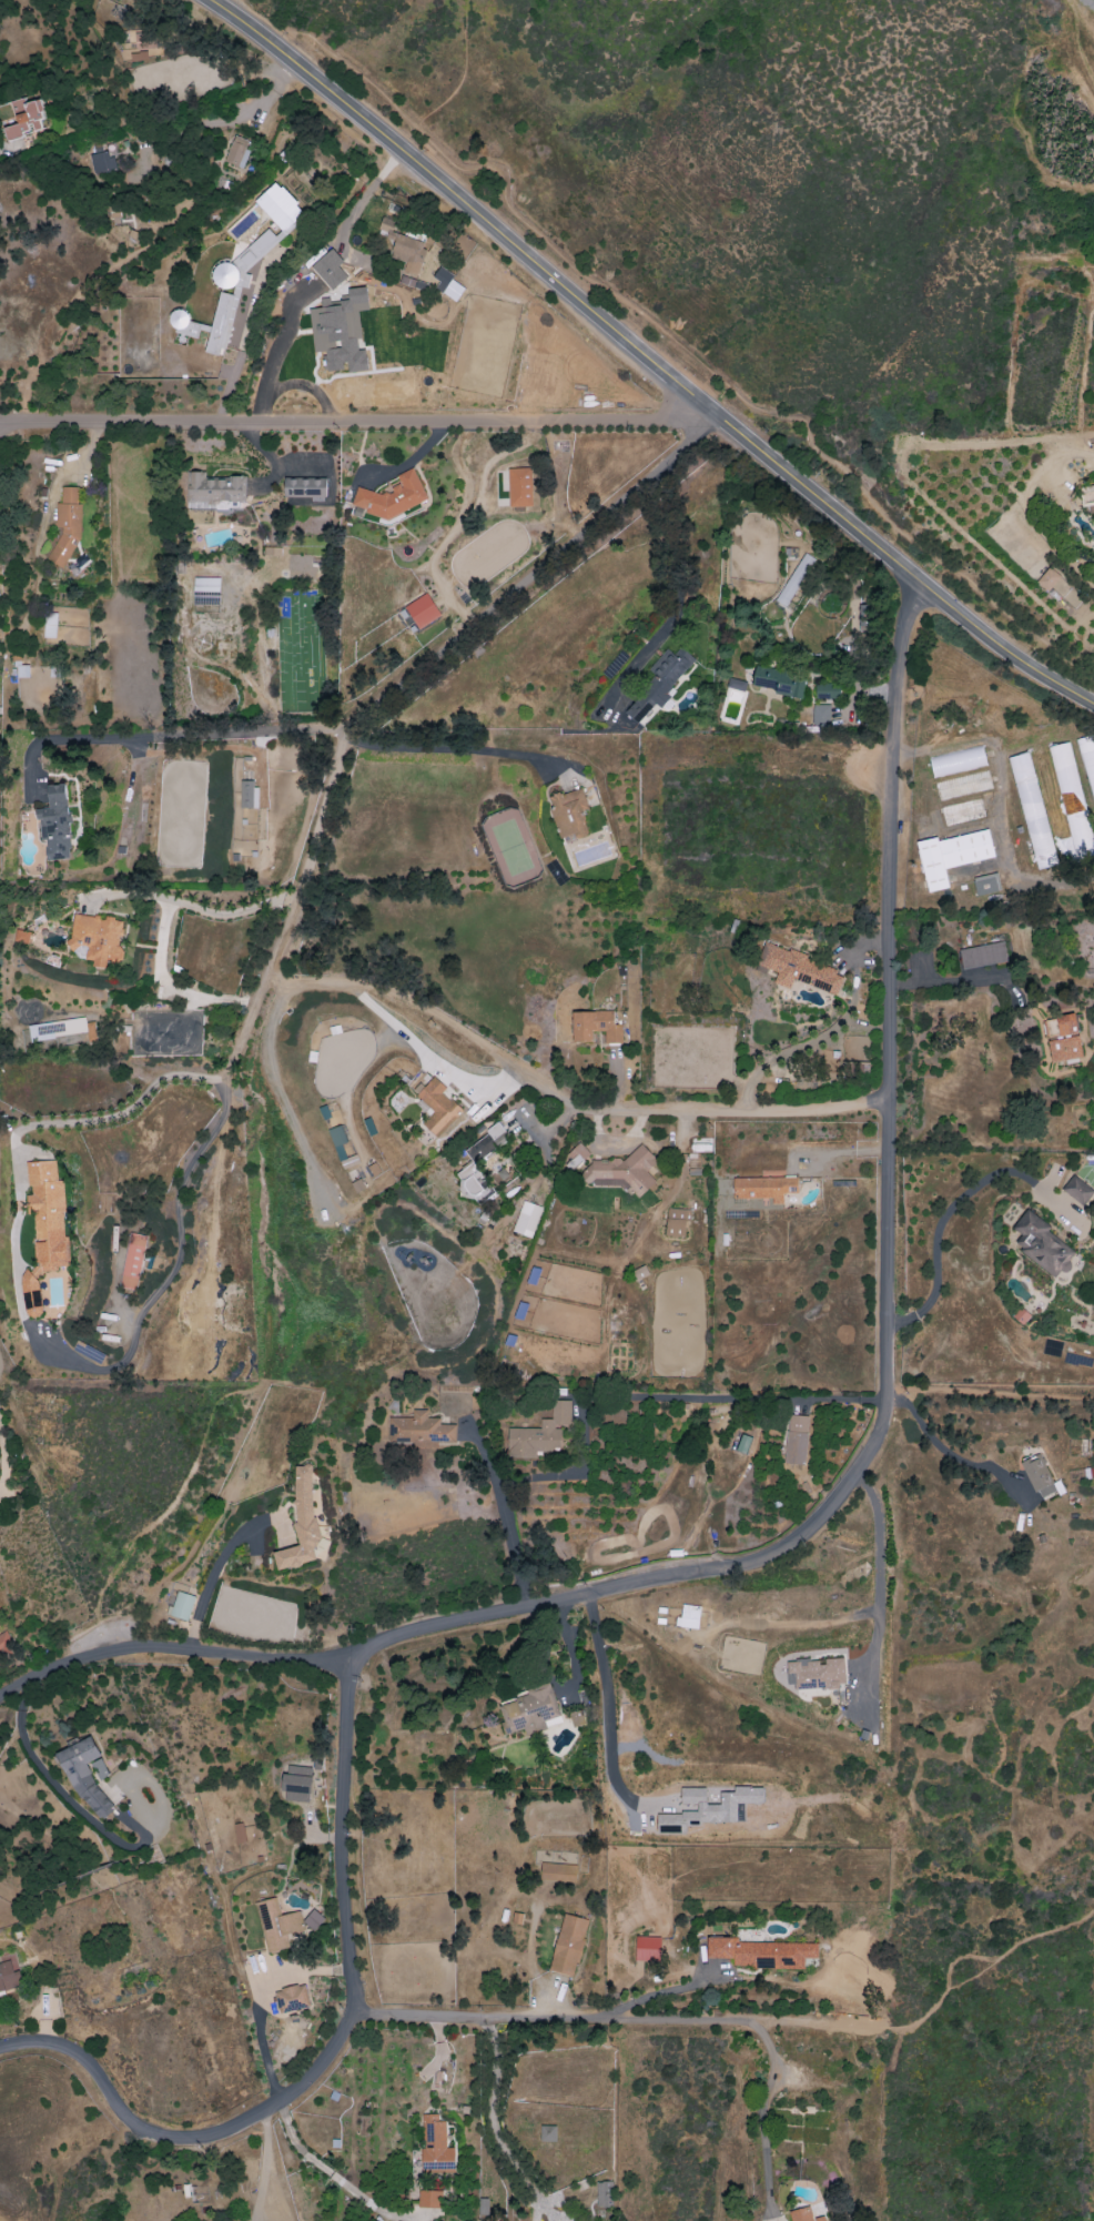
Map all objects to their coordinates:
road: (222, 2)
building: (146, 40)
road: (458, 85)
building: (237, 151)
building: (101, 163)
road: (367, 194)
building: (281, 208)
building: (403, 246)
building: (330, 270)
building: (448, 285)
building: (233, 290)
building: (341, 332)
road: (681, 347)
road: (277, 354)
road: (649, 357)
road: (353, 421)
road: (6, 427)
building: (520, 487)
building: (214, 491)
building: (392, 497)
building: (67, 526)
building: (1047, 578)
building: (796, 579)
building: (205, 590)
road: (676, 604)
building: (423, 610)
building: (50, 625)
building: (660, 683)
building: (780, 683)
building: (737, 685)
building: (825, 690)
road: (176, 734)
road: (443, 751)
building: (1087, 756)
building: (956, 761)
building: (247, 794)
building: (1072, 800)
road: (1000, 804)
building: (1032, 811)
building: (569, 812)
building: (55, 825)
building: (951, 856)
road: (191, 906)
road: (283, 937)
building: (97, 939)
building: (983, 955)
building: (800, 970)
road: (952, 982)
building: (595, 1026)
building: (58, 1029)
road: (833, 1029)
building: (1063, 1038)
road: (425, 1054)
building: (854, 1067)
road: (281, 1094)
building: (436, 1106)
road: (93, 1115)
building: (341, 1148)
building: (576, 1155)
building: (470, 1169)
building: (621, 1172)
road: (885, 1185)
building: (764, 1188)
building: (1078, 1191)
road: (949, 1210)
road: (178, 1214)
building: (527, 1219)
building: (677, 1222)
building: (44, 1228)
building: (1042, 1244)
building: (133, 1261)
building: (640, 1272)
building: (534, 1275)
road: (902, 1320)
road: (740, 1397)
building: (421, 1431)
building: (540, 1434)
building: (797, 1440)
building: (743, 1444)
road: (940, 1447)
road: (6, 1464)
building: (1039, 1476)
road: (505, 1516)
building: (305, 1524)
road: (878, 1565)
road: (215, 1569)
building: (181, 1605)
building: (690, 1615)
road: (190, 1638)
building: (6, 1643)
road: (286, 1664)
building: (816, 1673)
road: (21, 1694)
building: (529, 1710)
road: (607, 1715)
building: (85, 1777)
building: (297, 1784)
road: (63, 1797)
building: (240, 1833)
building: (558, 1872)
building: (314, 1919)
building: (278, 1926)
building: (569, 1944)
building: (648, 1949)
building: (761, 1952)
road: (959, 1954)
building: (8, 1976)
building: (292, 1998)
road: (263, 2000)
road: (606, 2020)
road: (333, 2052)
road: (762, 2120)
road: (493, 2124)
building: (548, 2133)
building: (435, 2144)
road: (274, 2168)
road: (334, 2177)
building: (602, 2193)
building: (428, 2199)
building: (803, 2215)

